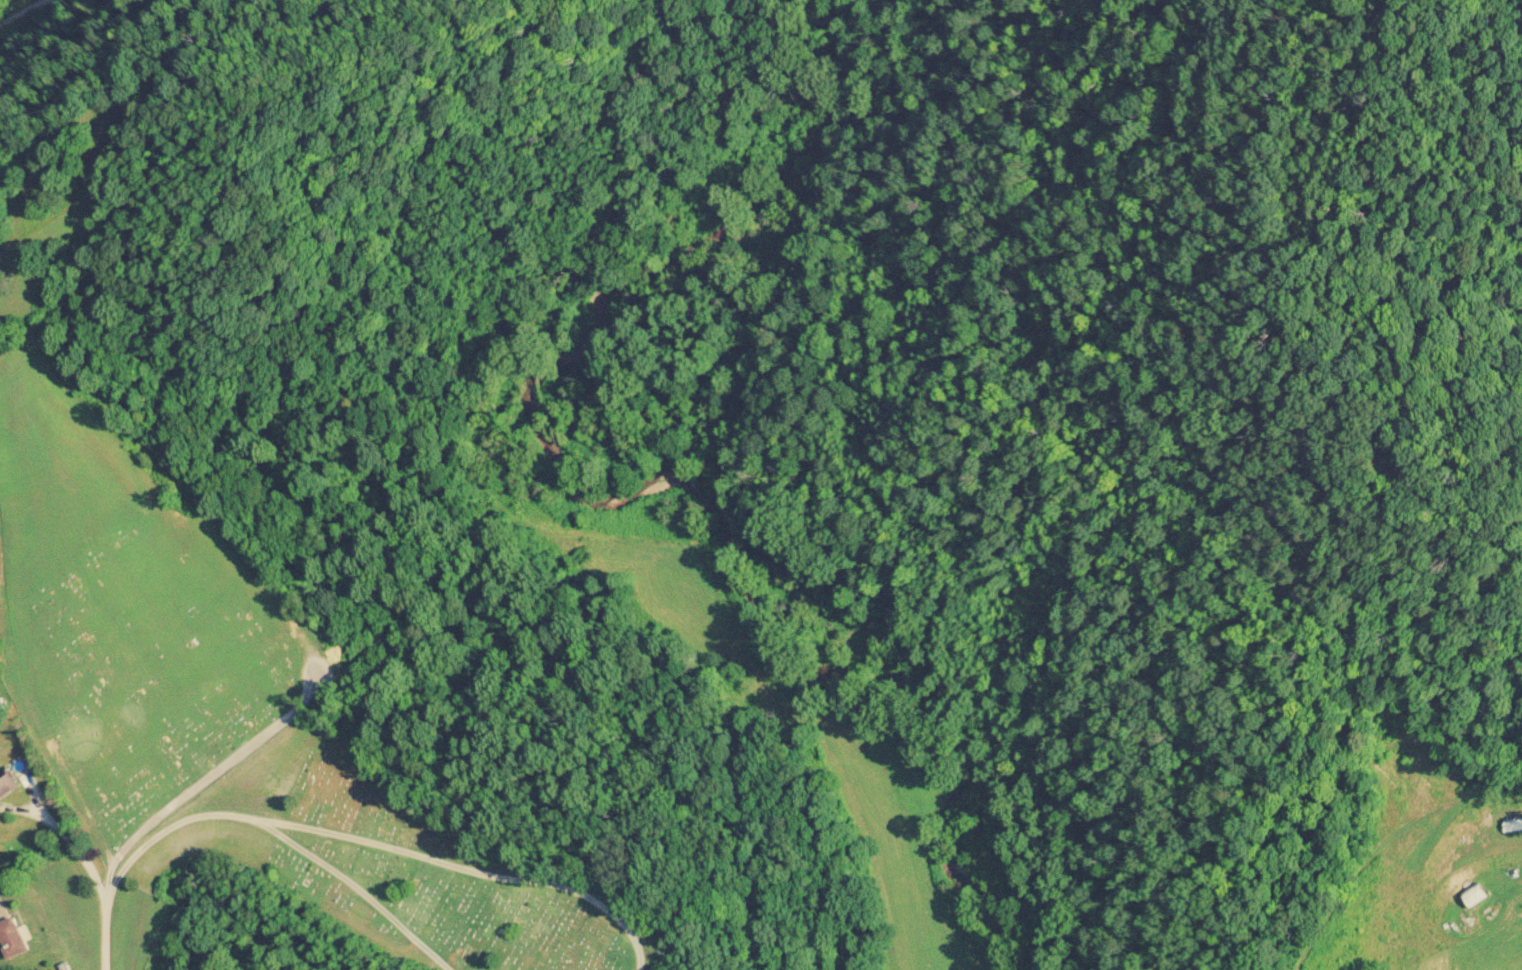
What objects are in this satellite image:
road: (57, 37)
building: (7, 784)
road: (255, 822)
road: (455, 849)
road: (78, 853)
building: (1477, 896)
building: (13, 939)

